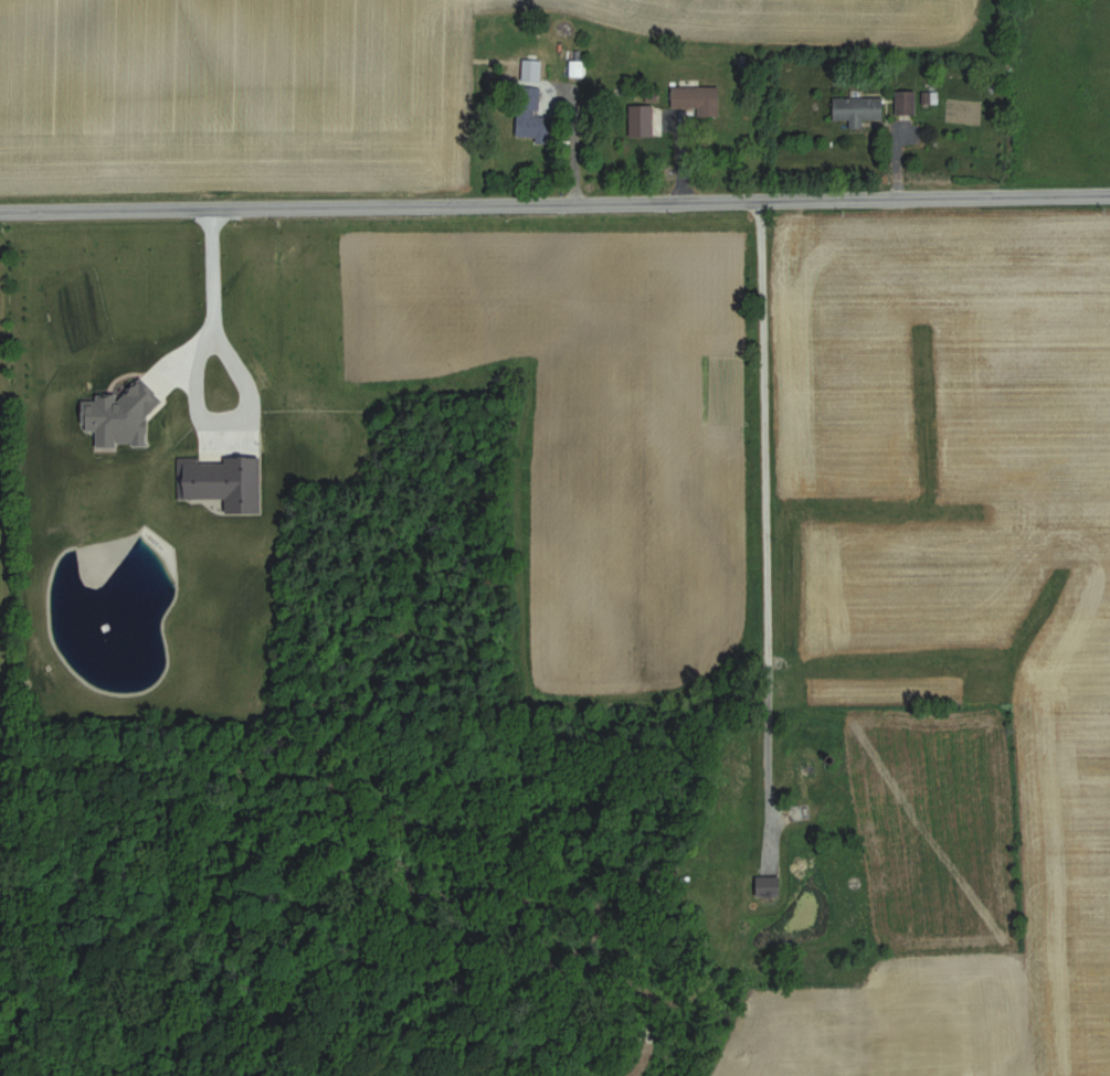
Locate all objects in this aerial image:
building: (698, 99)
building: (906, 104)
building: (858, 110)
building: (532, 120)
road: (571, 136)
road: (670, 161)
road: (897, 164)
road: (554, 204)
road: (210, 321)
road: (761, 479)
building: (804, 769)
building: (769, 885)
building: (722, 889)

